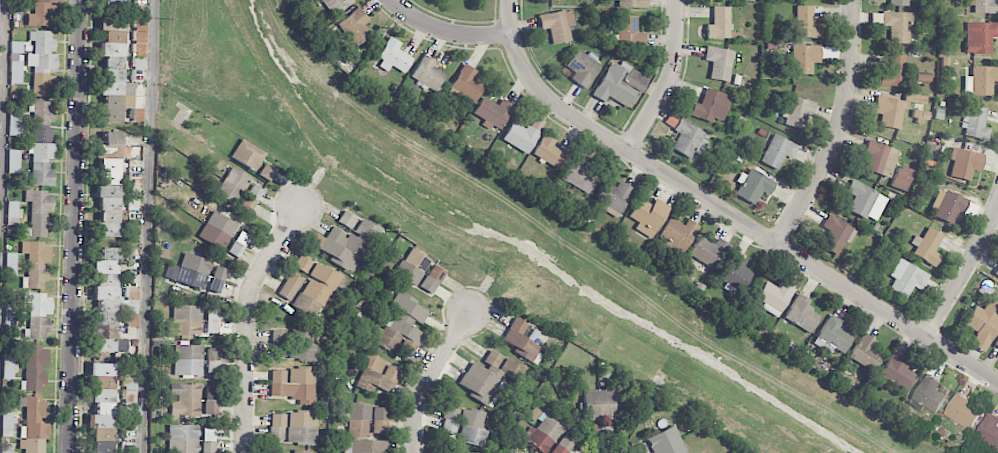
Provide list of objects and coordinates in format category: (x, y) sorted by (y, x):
building: (898, 2)
building: (113, 3)
building: (632, 3)
building: (336, 5)
building: (983, 6)
building: (42, 13)
road: (509, 16)
street lamp: (493, 19)
building: (719, 23)
building: (806, 23)
building: (557, 25)
building: (354, 26)
building: (898, 26)
road: (446, 31)
building: (629, 32)
building: (140, 37)
building: (980, 37)
building: (393, 57)
building: (804, 58)
building: (41, 61)
building: (718, 63)
building: (582, 68)
building: (15, 70)
building: (113, 72)
building: (893, 72)
building: (428, 73)
road: (668, 80)
building: (980, 80)
building: (467, 84)
building: (619, 84)
building: (710, 106)
building: (894, 109)
building: (493, 113)
building: (797, 113)
road: (3, 116)
building: (920, 116)
building: (41, 120)
building: (14, 123)
building: (975, 124)
road: (838, 129)
building: (520, 137)
building: (688, 139)
street lamp: (645, 148)
building: (778, 151)
building: (548, 152)
building: (248, 155)
building: (109, 157)
building: (879, 158)
building: (13, 161)
building: (964, 163)
building: (42, 164)
building: (267, 172)
building: (900, 178)
building: (233, 185)
building: (753, 186)
building: (613, 196)
building: (251, 198)
building: (865, 201)
building: (947, 206)
building: (107, 211)
building: (39, 212)
building: (13, 213)
building: (647, 216)
road: (740, 221)
road: (78, 226)
road: (147, 226)
building: (217, 230)
building: (678, 233)
building: (835, 234)
street lamp: (794, 239)
building: (347, 242)
building: (927, 246)
building: (236, 249)
building: (708, 252)
building: (11, 264)
building: (36, 264)
building: (303, 264)
building: (412, 266)
building: (190, 271)
building: (735, 272)
building: (996, 272)
road: (963, 273)
building: (907, 278)
building: (432, 279)
building: (216, 285)
building: (290, 286)
building: (316, 291)
building: (131, 293)
building: (774, 297)
building: (108, 303)
building: (801, 313)
building: (38, 314)
building: (9, 315)
building: (132, 320)
road: (248, 320)
building: (185, 321)
building: (212, 321)
building: (402, 323)
building: (983, 324)
building: (832, 336)
building: (520, 341)
building: (996, 343)
building: (294, 344)
building: (865, 352)
building: (214, 355)
building: (188, 360)
building: (9, 367)
building: (34, 368)
building: (896, 372)
building: (376, 373)
road: (432, 377)
building: (486, 377)
building: (294, 384)
building: (130, 390)
building: (928, 394)
building: (185, 400)
building: (211, 401)
building: (601, 405)
building: (102, 407)
building: (963, 411)
building: (380, 413)
building: (449, 420)
building: (8, 421)
building: (34, 426)
building: (277, 427)
building: (380, 427)
building: (472, 427)
building: (301, 428)
building: (989, 430)
building: (362, 431)
building: (543, 433)
building: (183, 439)
building: (666, 442)
building: (563, 445)
building: (208, 447)
building: (6, 449)
building: (640, 449)
building: (297, 452)

